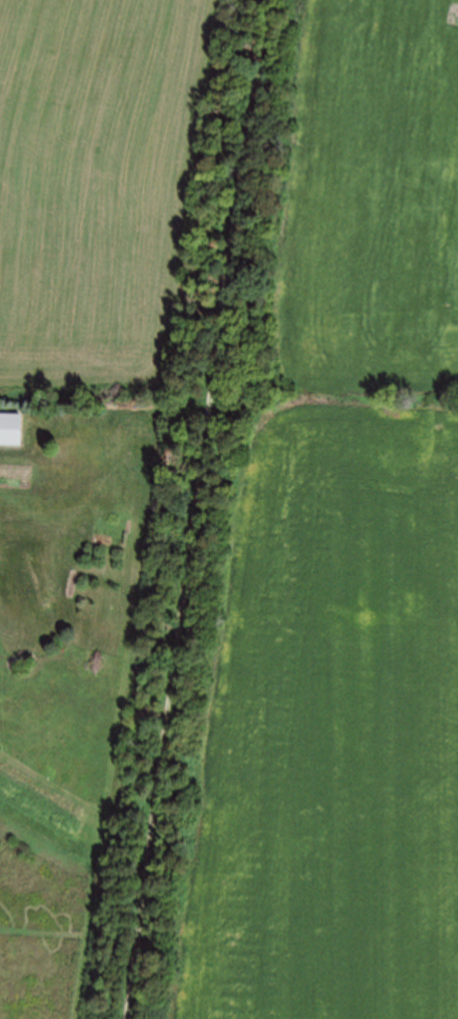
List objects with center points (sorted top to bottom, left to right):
building: (10, 426)
road: (198, 509)

